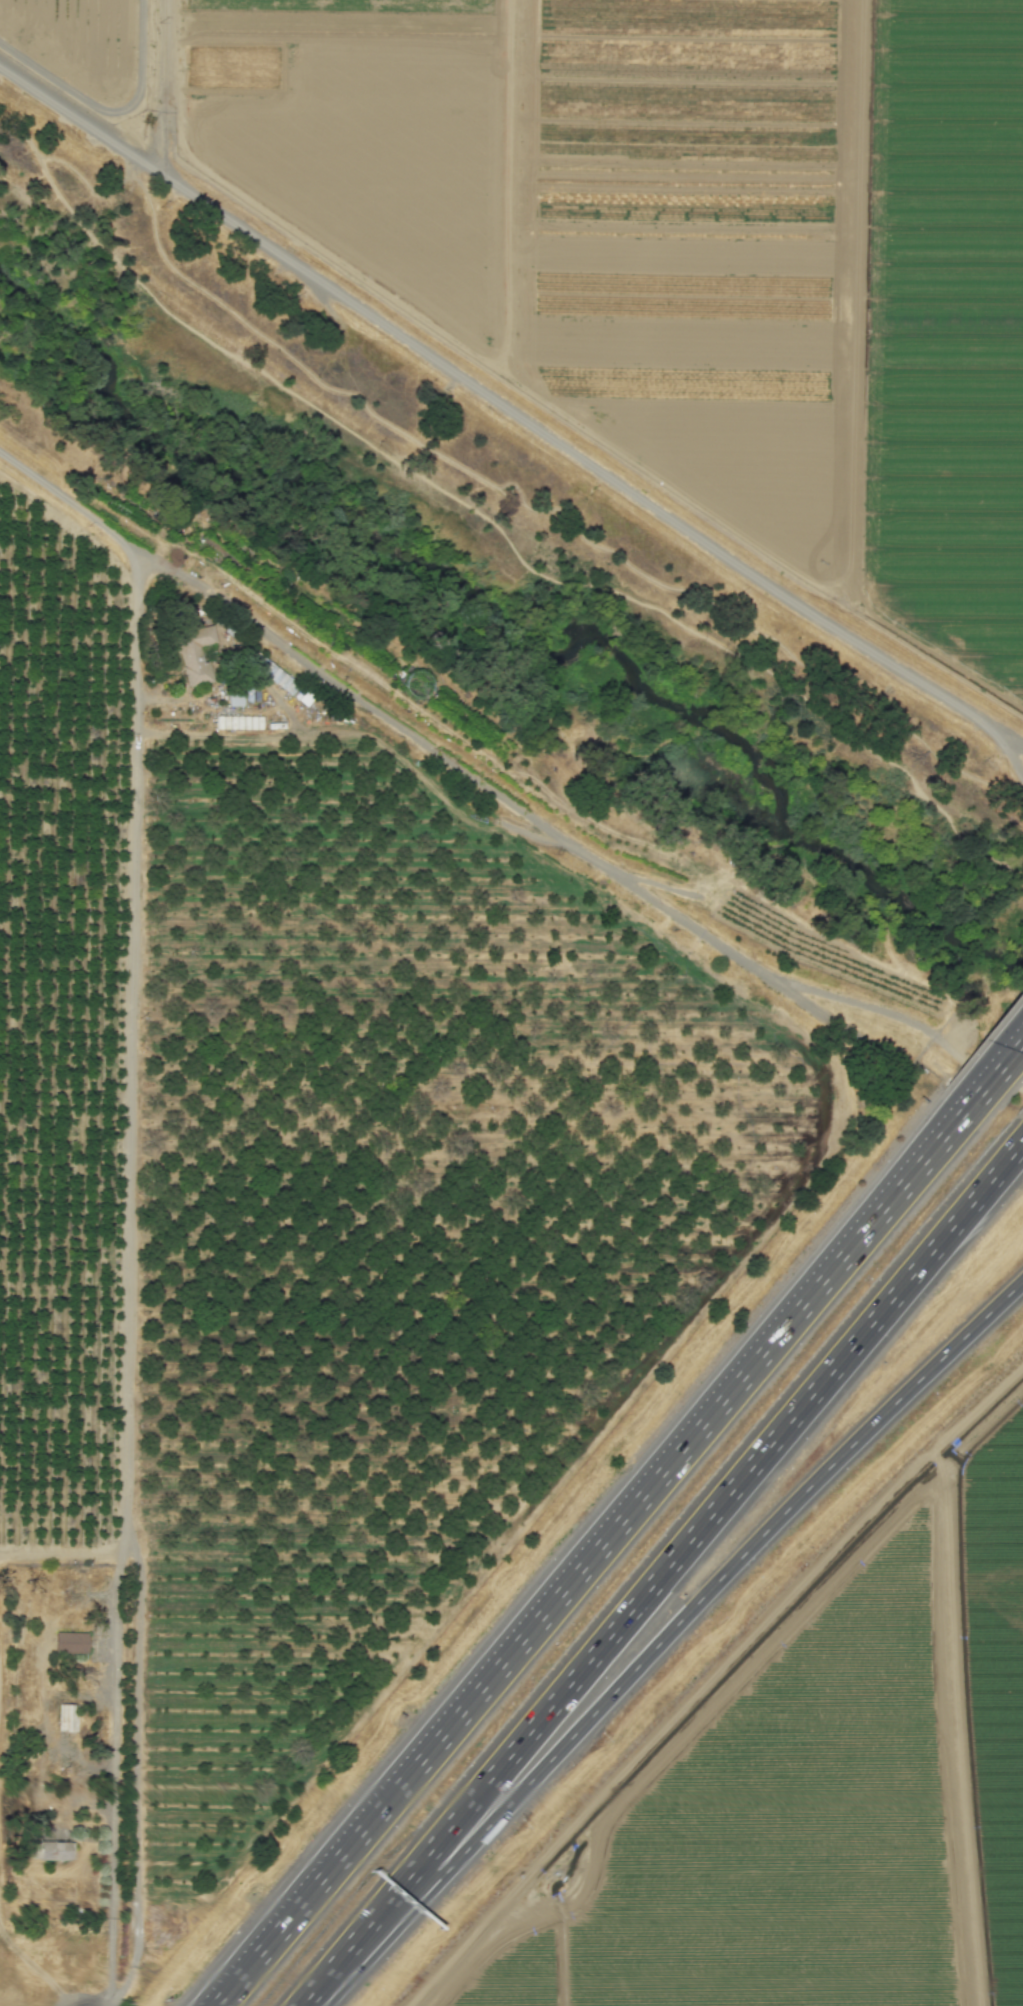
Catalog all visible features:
road: (161, 55)
road: (160, 140)
road: (91, 189)
crop: (667, 237)
road: (500, 404)
road: (555, 509)
road: (492, 522)
river: (518, 633)
building: (197, 653)
building: (275, 674)
building: (235, 697)
road: (1014, 741)
road: (1013, 758)
road: (498, 792)
road: (995, 1072)
road: (127, 1283)
road: (714, 1513)
road: (66, 1555)
road: (591, 1555)
road: (716, 1583)
building: (70, 1642)
building: (66, 1717)
road: (113, 1779)
building: (52, 1850)
road: (363, 1948)

